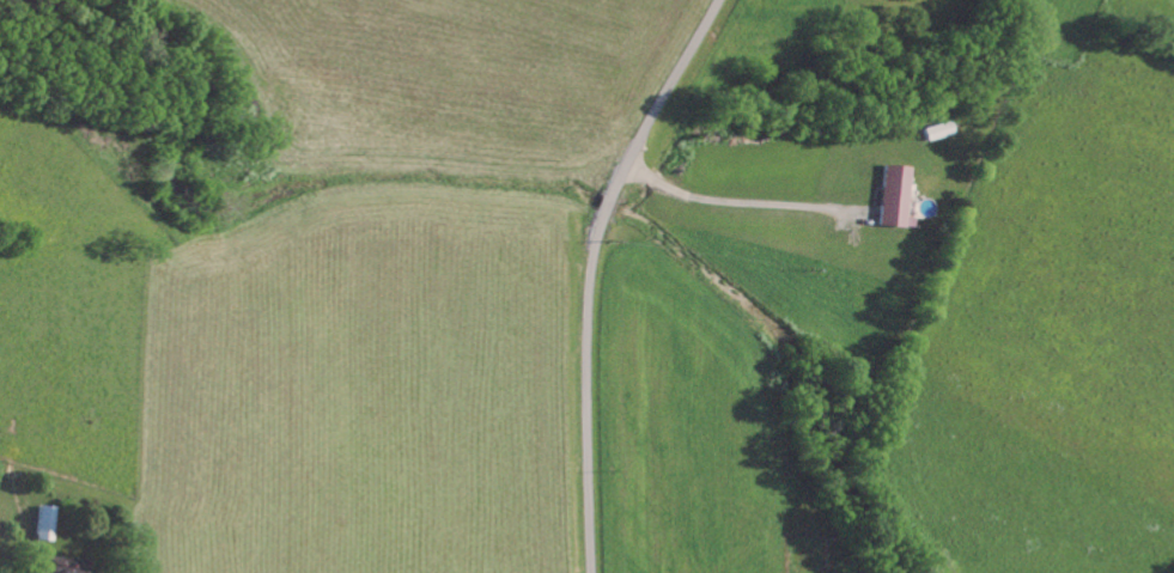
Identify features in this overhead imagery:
building: (942, 132)
building: (896, 196)
road: (741, 200)
road: (592, 270)
building: (44, 524)
building: (63, 566)

